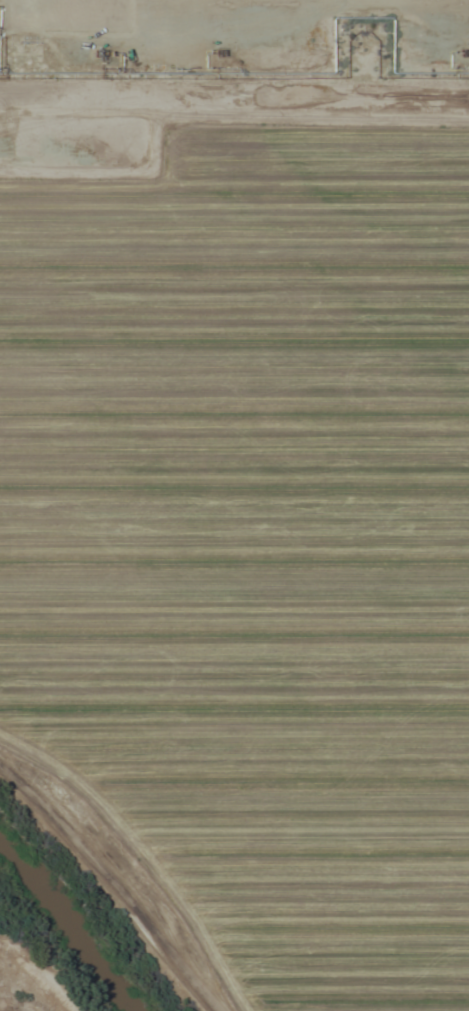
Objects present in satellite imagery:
road: (113, 880)
river: (76, 926)

